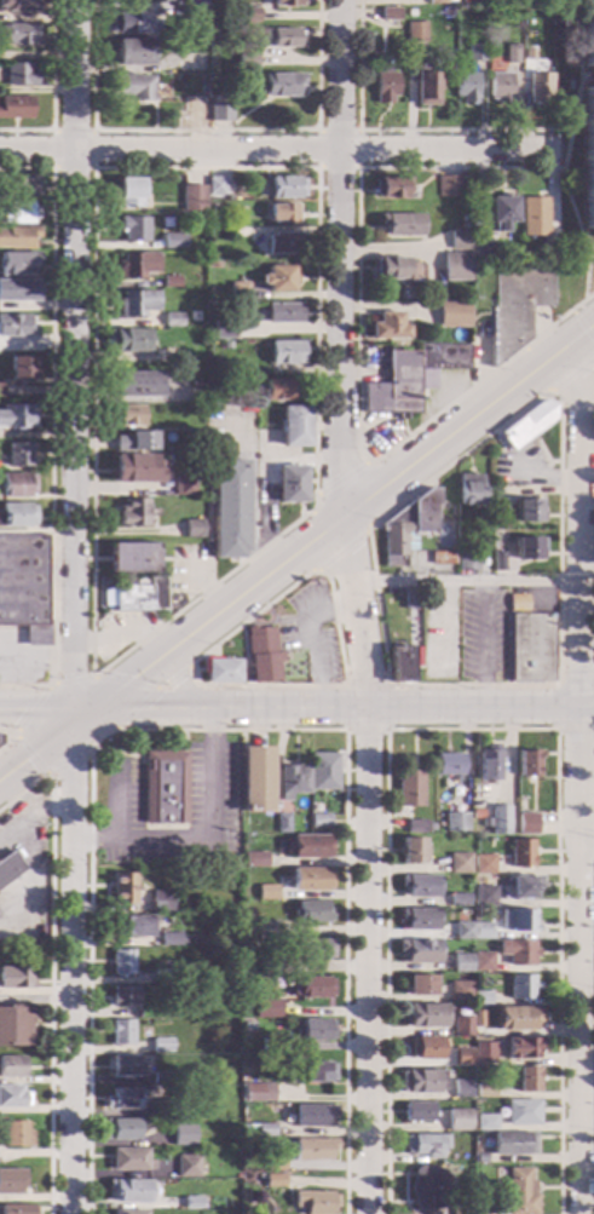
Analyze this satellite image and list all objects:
building: (382, 0)
building: (471, 1)
building: (283, 2)
building: (439, 2)
building: (18, 5)
building: (191, 8)
building: (247, 13)
building: (388, 13)
building: (127, 22)
building: (414, 31)
building: (17, 34)
building: (281, 36)
building: (132, 52)
building: (474, 52)
building: (509, 54)
building: (526, 56)
building: (203, 58)
building: (246, 61)
building: (19, 75)
building: (200, 82)
building: (279, 85)
building: (383, 85)
building: (423, 86)
building: (131, 87)
building: (465, 87)
building: (537, 87)
building: (498, 88)
road: (52, 91)
building: (16, 108)
building: (219, 113)
building: (197, 114)
building: (588, 119)
road: (203, 131)
road: (397, 131)
road: (567, 131)
road: (255, 151)
road: (316, 168)
road: (92, 169)
building: (446, 185)
building: (214, 186)
building: (18, 188)
building: (282, 188)
building: (390, 188)
building: (129, 192)
building: (191, 199)
building: (17, 212)
building: (500, 212)
building: (282, 214)
building: (532, 217)
building: (400, 224)
building: (133, 228)
building: (236, 232)
building: (17, 237)
building: (457, 240)
building: (173, 241)
building: (283, 243)
building: (544, 254)
building: (475, 260)
building: (17, 263)
building: (134, 265)
building: (452, 266)
building: (396, 270)
building: (276, 280)
building: (171, 282)
building: (237, 289)
building: (18, 290)
building: (135, 303)
building: (515, 307)
building: (283, 313)
building: (450, 316)
building: (172, 320)
building: (16, 326)
building: (388, 327)
road: (582, 328)
road: (73, 329)
building: (224, 329)
building: (128, 340)
building: (225, 345)
building: (286, 352)
building: (184, 355)
road: (356, 359)
building: (22, 368)
road: (571, 374)
building: (411, 378)
building: (195, 384)
building: (135, 385)
building: (214, 387)
building: (1, 390)
building: (277, 390)
building: (127, 415)
building: (16, 416)
building: (526, 424)
building: (294, 426)
road: (51, 427)
road: (559, 428)
building: (134, 442)
building: (18, 454)
building: (134, 468)
road: (339, 478)
road: (385, 483)
building: (290, 484)
building: (15, 485)
building: (181, 485)
building: (469, 489)
building: (229, 508)
building: (500, 508)
building: (526, 511)
building: (132, 513)
building: (15, 514)
building: (408, 527)
building: (192, 528)
building: (465, 541)
building: (527, 548)
road: (340, 553)
building: (132, 558)
building: (442, 558)
building: (467, 560)
building: (498, 562)
road: (587, 565)
road: (224, 576)
road: (466, 581)
building: (24, 586)
building: (135, 597)
building: (411, 600)
building: (518, 603)
road: (357, 606)
road: (439, 627)
road: (335, 631)
road: (125, 634)
road: (310, 638)
road: (241, 639)
road: (484, 643)
road: (277, 645)
building: (530, 648)
building: (261, 654)
building: (416, 656)
road: (35, 660)
building: (400, 663)
building: (220, 672)
traffic signals: (71, 674)
traffic signals: (132, 678)
road: (172, 678)
road: (127, 680)
road: (177, 680)
road: (52, 685)
road: (73, 685)
road: (402, 707)
road: (204, 708)
road: (558, 708)
traffic signals: (22, 709)
road: (135, 709)
traffic signals: (145, 709)
road: (36, 710)
road: (221, 731)
road: (362, 731)
road: (472, 731)
road: (12, 737)
road: (38, 746)
traffic signals: (24, 759)
building: (448, 763)
building: (529, 763)
building: (489, 764)
building: (323, 771)
traffic signals: (71, 772)
road: (581, 775)
building: (255, 779)
building: (293, 781)
building: (165, 787)
building: (410, 789)
building: (479, 805)
building: (321, 821)
building: (500, 821)
building: (282, 822)
building: (456, 822)
building: (527, 824)
building: (417, 827)
road: (207, 839)
building: (311, 846)
road: (588, 848)
building: (413, 851)
building: (521, 853)
building: (253, 861)
building: (460, 863)
building: (484, 864)
building: (8, 868)
building: (311, 879)
building: (420, 886)
building: (525, 886)
building: (122, 888)
building: (267, 892)
building: (484, 896)
building: (460, 899)
building: (160, 902)
building: (313, 911)
building: (420, 919)
building: (518, 920)
building: (132, 926)
building: (267, 930)
building: (465, 931)
building: (483, 931)
building: (169, 939)
building: (181, 942)
building: (313, 949)
building: (419, 951)
building: (518, 953)
road: (71, 962)
building: (121, 962)
building: (462, 962)
building: (483, 962)
road: (51, 965)
building: (271, 968)
building: (162, 976)
building: (16, 978)
building: (249, 982)
building: (421, 985)
building: (312, 986)
building: (523, 988)
building: (461, 991)
building: (123, 996)
building: (481, 999)
building: (267, 1008)
building: (426, 1015)
building: (517, 1019)
building: (479, 1023)
building: (462, 1025)
building: (13, 1026)
building: (248, 1029)
building: (315, 1030)
building: (121, 1031)
building: (161, 1045)
building: (271, 1047)
building: (427, 1048)
building: (523, 1049)
building: (484, 1052)
building: (462, 1057)
building: (11, 1066)
building: (125, 1066)
building: (316, 1072)
building: (165, 1078)
building: (184, 1078)
building: (529, 1080)
building: (421, 1081)
building: (461, 1088)
building: (485, 1091)
building: (258, 1092)
building: (12, 1097)
building: (122, 1099)
building: (165, 1107)
building: (419, 1112)
building: (521, 1112)
building: (312, 1115)
building: (457, 1121)
building: (485, 1122)
building: (121, 1129)
building: (264, 1130)
building: (13, 1135)
building: (183, 1135)
building: (512, 1143)
building: (425, 1145)
building: (312, 1149)
building: (480, 1158)
building: (129, 1160)
building: (269, 1161)
building: (188, 1166)
building: (272, 1180)
building: (11, 1181)
building: (428, 1187)
building: (128, 1191)
building: (520, 1192)
building: (313, 1201)
building: (191, 1203)
building: (15, 1209)
building: (460, 1209)
building: (484, 1209)
building: (128, 1212)

